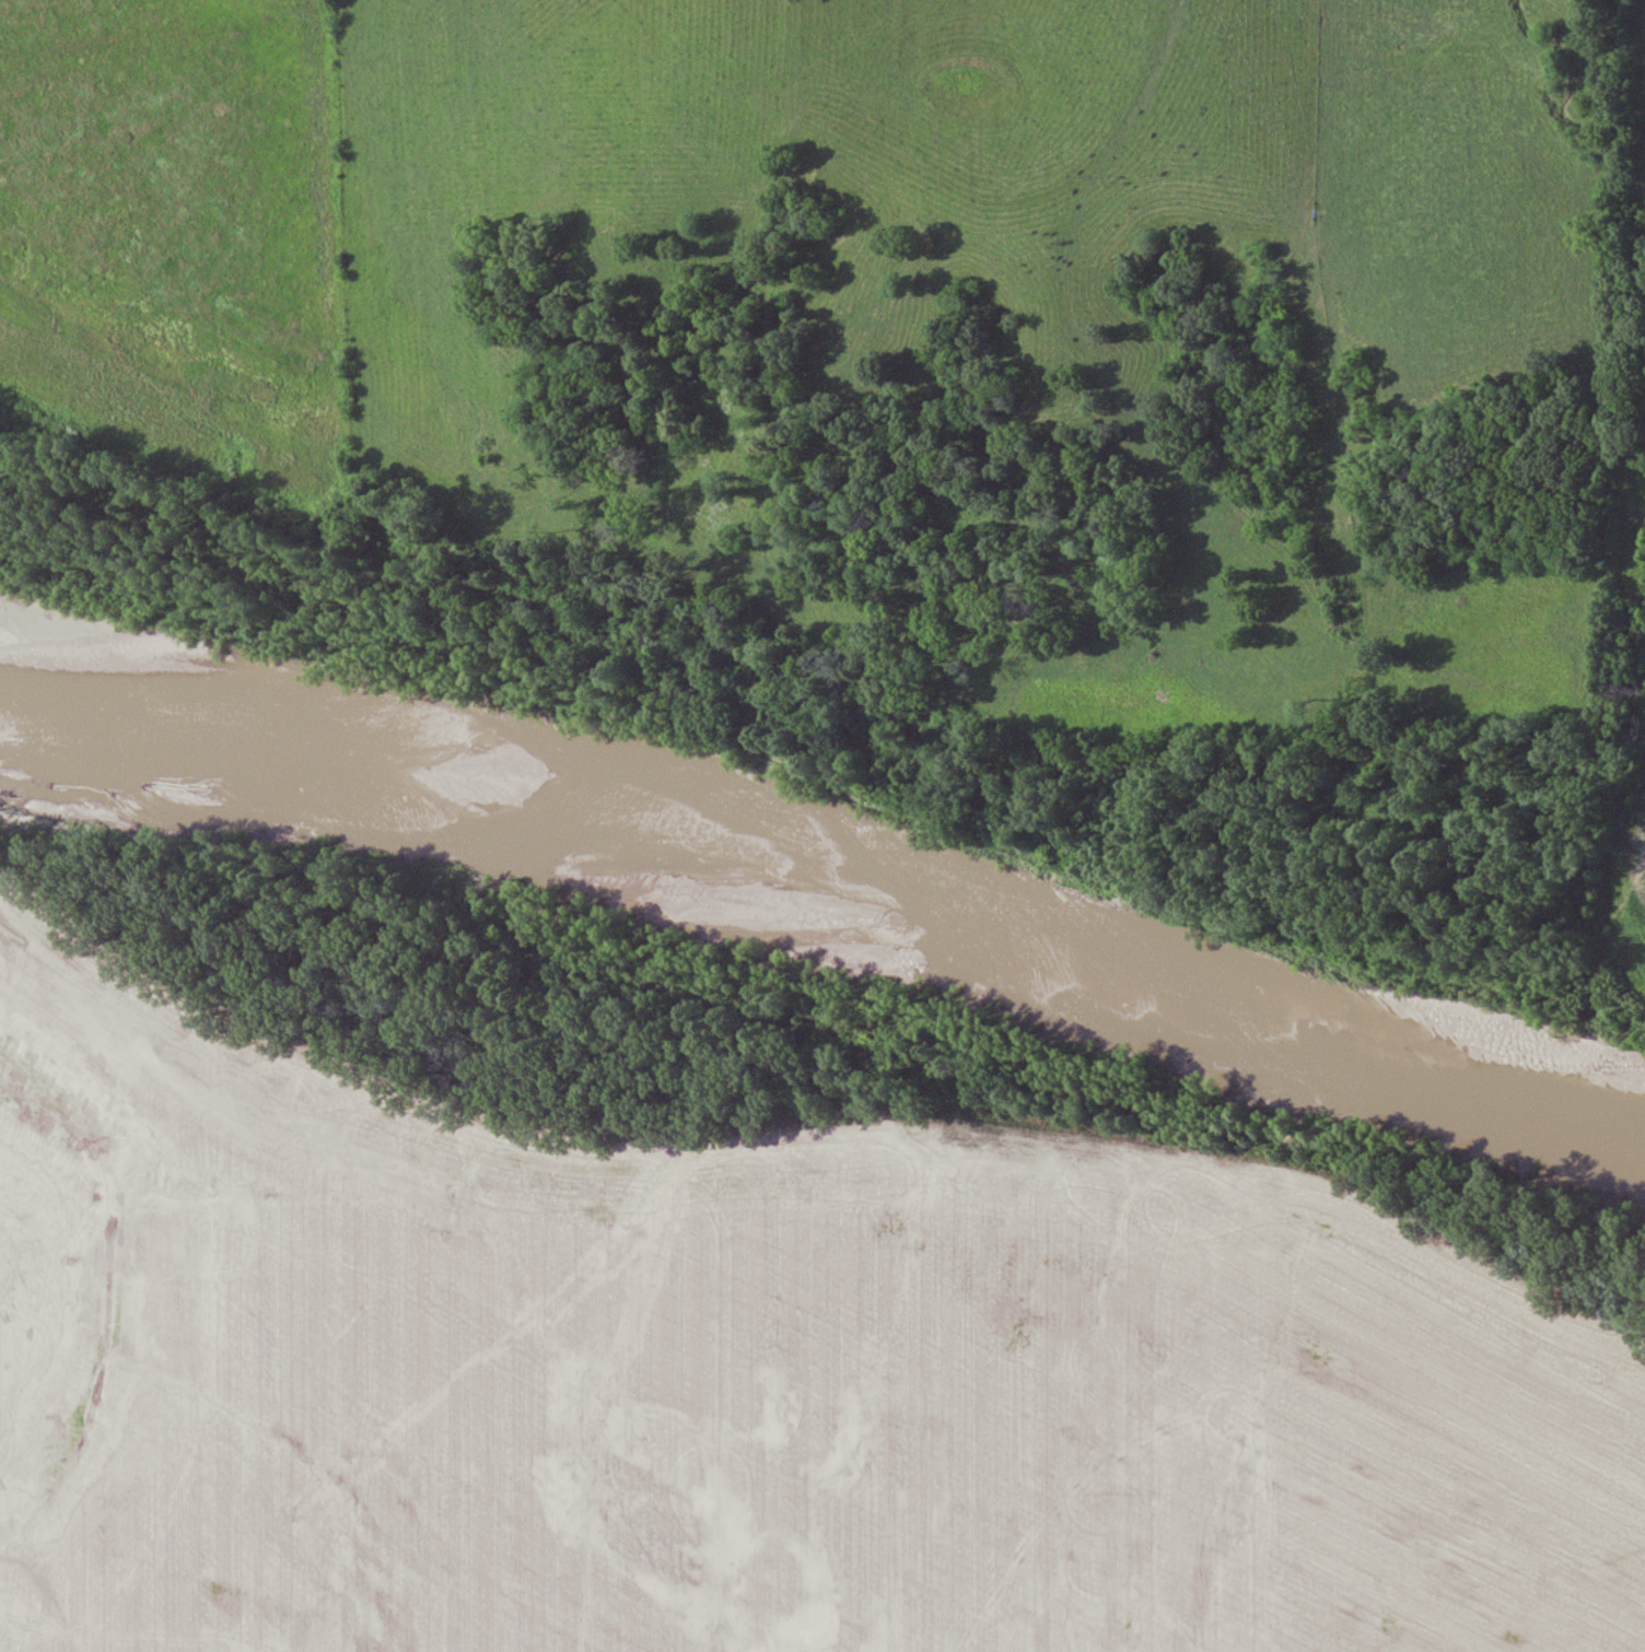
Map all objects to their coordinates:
river: (826, 914)
park: (736, 1309)
crop: (739, 1380)

